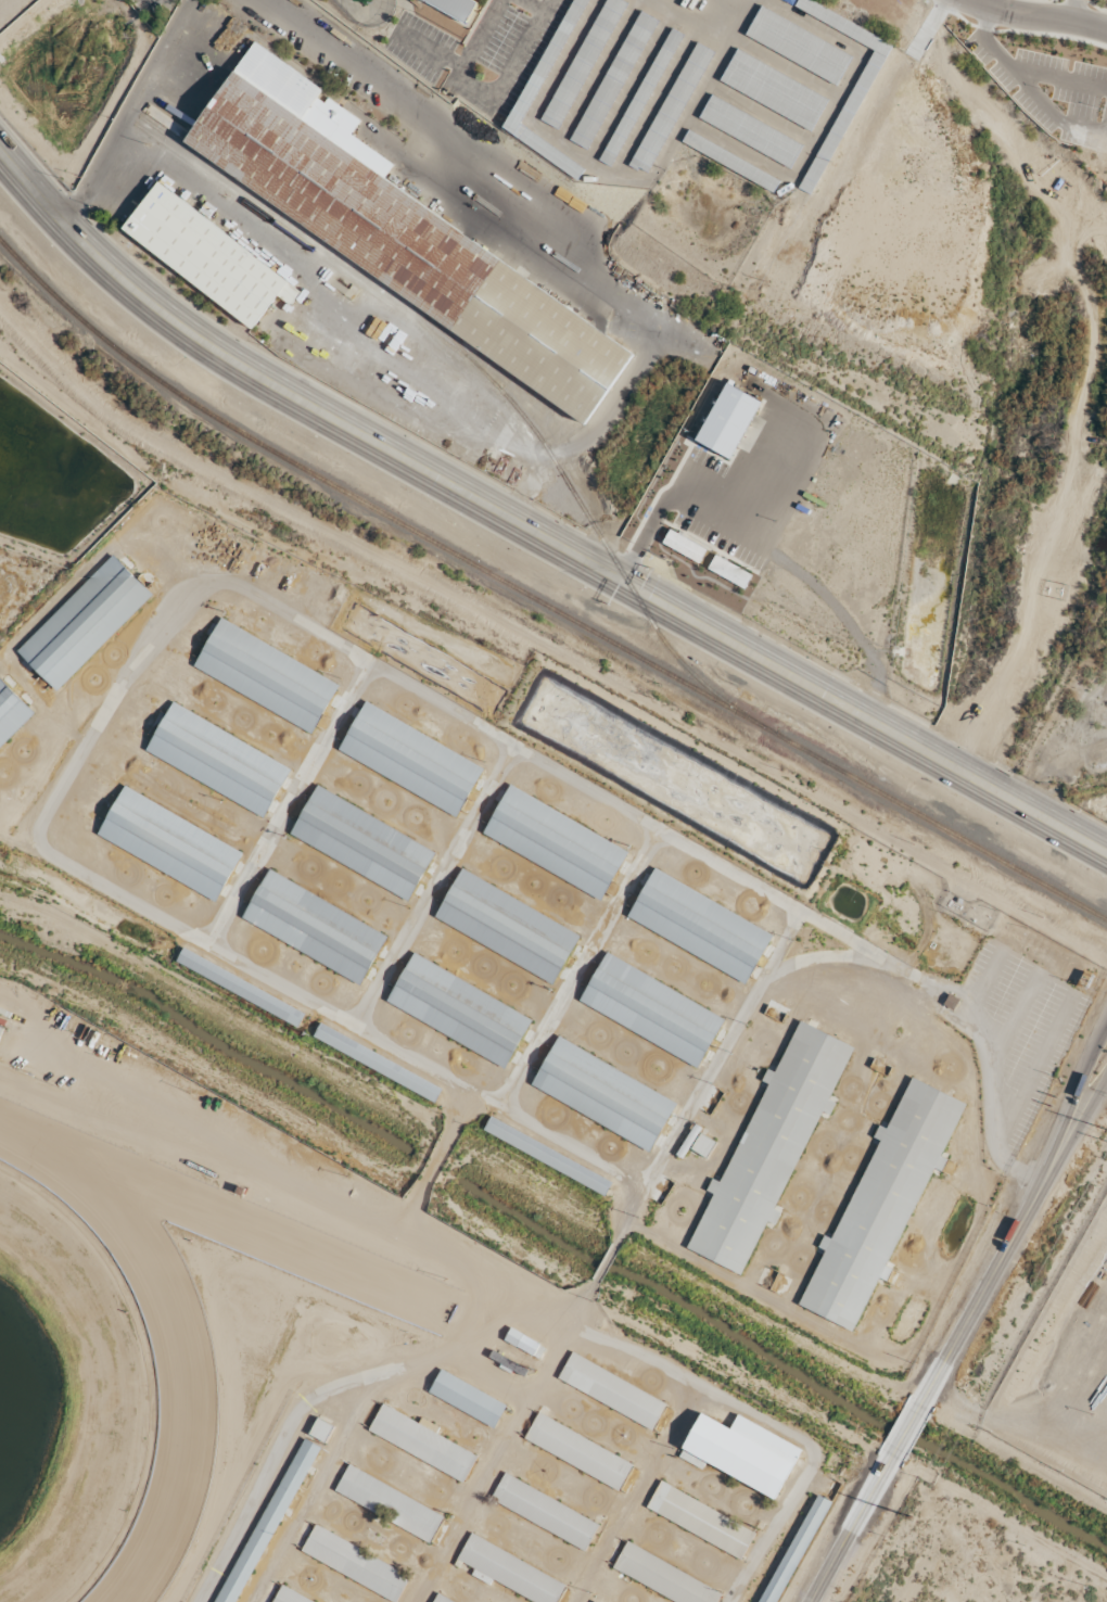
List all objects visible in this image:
road: (736, 4)
road: (532, 5)
building: (454, 8)
road: (1073, 10)
road: (1039, 16)
road: (684, 23)
park: (369, 26)
building: (797, 44)
road: (429, 50)
building: (582, 63)
road: (784, 66)
road: (597, 71)
building: (612, 80)
road: (625, 88)
road: (699, 90)
building: (773, 90)
building: (639, 98)
road: (651, 100)
road: (481, 101)
building: (671, 109)
road: (123, 110)
road: (759, 112)
building: (842, 118)
road: (529, 120)
road: (823, 123)
building: (750, 131)
road: (435, 155)
building: (180, 236)
building: (405, 237)
railway: (308, 238)
railway: (491, 382)
building: (727, 420)
road: (532, 531)
building: (684, 546)
building: (728, 572)
railway: (538, 602)
building: (82, 623)
road: (140, 654)
road: (553, 667)
building: (264, 675)
building: (11, 712)
building: (217, 759)
building: (409, 759)
road: (289, 802)
building: (361, 842)
building: (553, 842)
building: (167, 843)
road: (434, 886)
building: (506, 926)
building: (698, 926)
building: (314, 927)
road: (827, 954)
road: (577, 966)
road: (946, 982)
building: (240, 987)
road: (1072, 989)
building: (951, 1002)
building: (650, 1009)
road: (944, 1009)
building: (458, 1010)
road: (1017, 1012)
parking lot: (1026, 1012)
road: (977, 1014)
building: (0, 1028)
building: (376, 1061)
road: (704, 1076)
building: (602, 1094)
road: (989, 1119)
building: (698, 1142)
building: (768, 1147)
building: (546, 1155)
building: (880, 1204)
road: (1010, 1234)
road: (605, 1262)
road: (953, 1263)
track: (187, 1309)
road: (585, 1330)
building: (524, 1344)
power plant: (1065, 1373)
road: (290, 1381)
building: (612, 1389)
building: (467, 1398)
building: (320, 1429)
road: (904, 1431)
road: (505, 1441)
building: (421, 1442)
building: (577, 1451)
building: (743, 1451)
road: (806, 1466)
road: (315, 1480)
building: (387, 1503)
building: (544, 1511)
power tower: (909, 1515)
building: (699, 1518)
building: (268, 1522)
road: (851, 1526)
building: (794, 1549)
building: (355, 1563)
building: (509, 1571)
building: (661, 1577)
building: (290, 1595)
building: (441, 1599)

